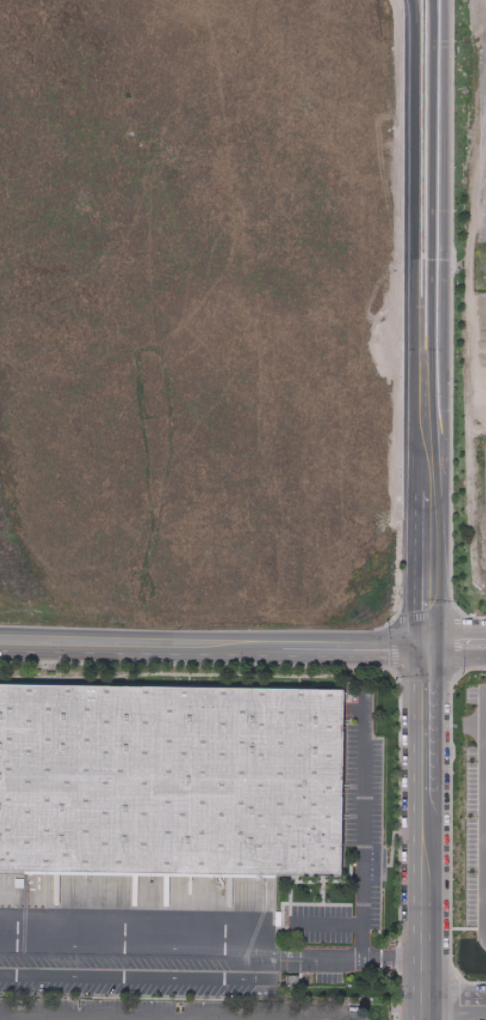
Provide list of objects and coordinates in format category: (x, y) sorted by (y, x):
road: (412, 5)
road: (413, 5)
road: (441, 99)
building: (485, 229)
road: (411, 244)
road: (453, 308)
road: (399, 311)
road: (439, 423)
road: (414, 561)
road: (424, 617)
road: (455, 633)
road: (213, 640)
traffic signals: (427, 644)
road: (454, 660)
road: (426, 719)
building: (169, 791)
road: (484, 816)
road: (359, 859)
road: (425, 907)
road: (323, 924)
road: (179, 948)
road: (142, 972)
road: (455, 1006)
road: (83, 1018)
road: (18, 1019)

